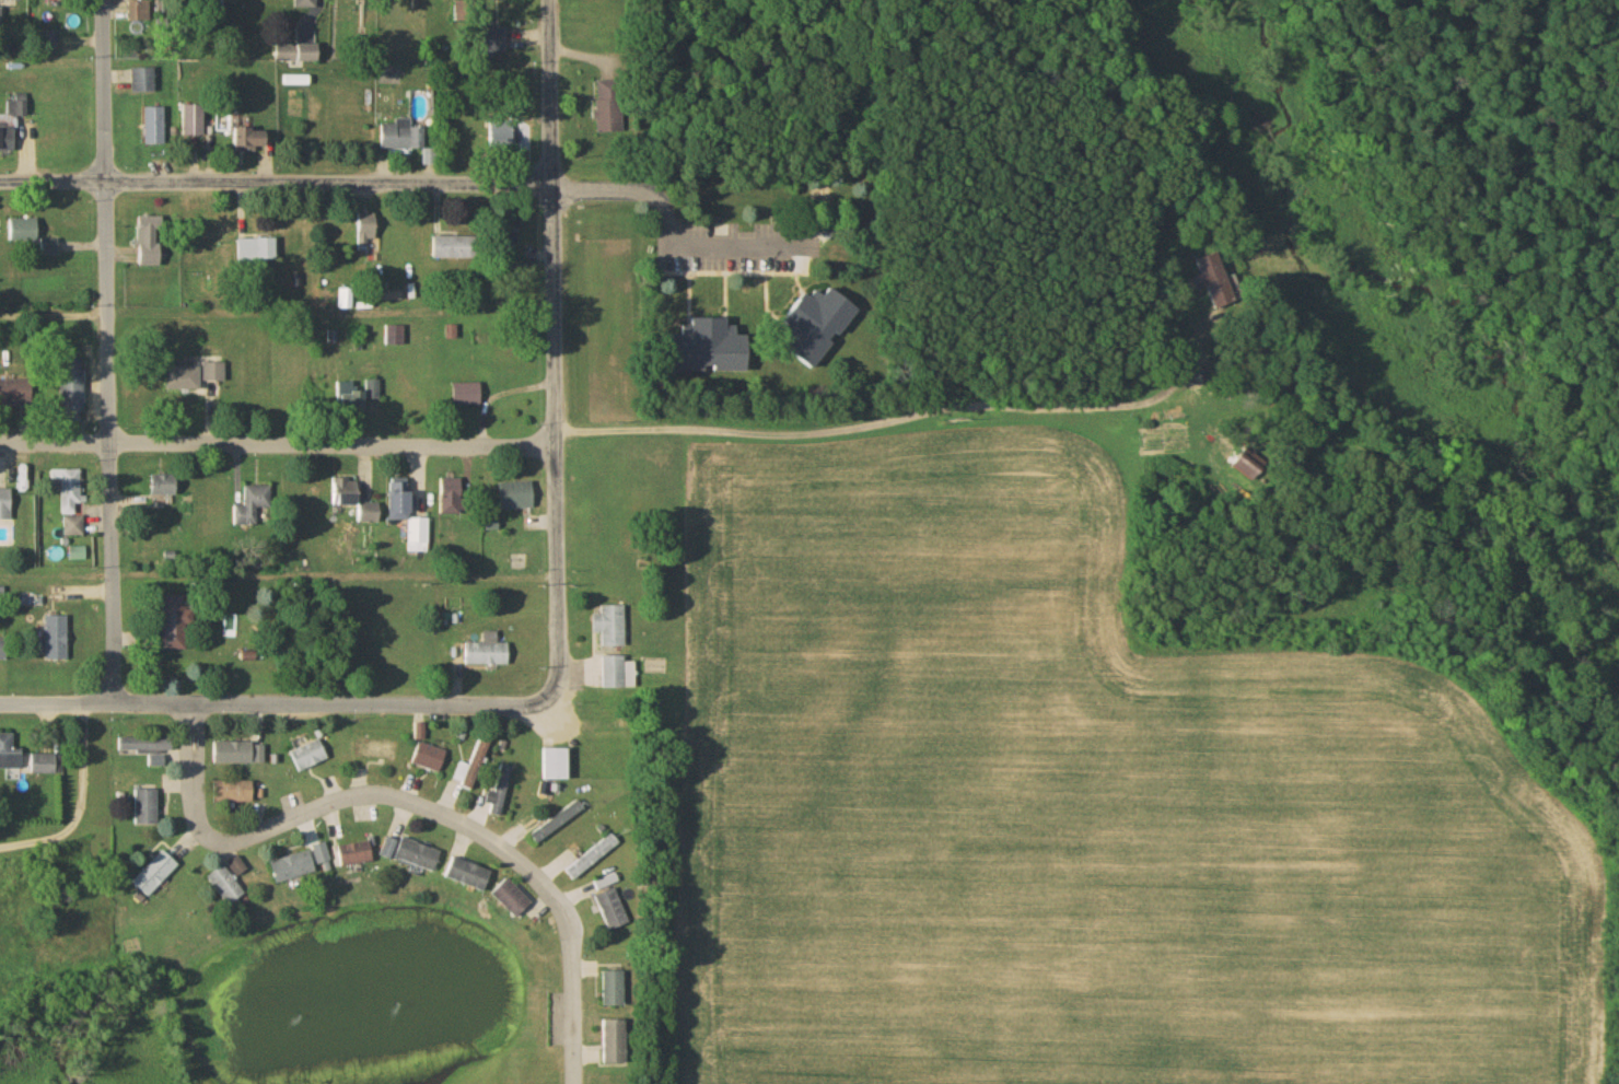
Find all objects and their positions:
building: (10, 0)
building: (306, 4)
building: (466, 11)
building: (138, 12)
building: (0, 16)
building: (299, 54)
building: (142, 82)
building: (607, 106)
building: (13, 119)
building: (193, 121)
building: (154, 125)
building: (403, 136)
building: (493, 136)
building: (254, 140)
road: (54, 180)
road: (326, 180)
road: (669, 229)
building: (24, 231)
building: (364, 231)
building: (825, 235)
building: (151, 245)
building: (50, 248)
building: (454, 248)
building: (258, 252)
building: (1205, 271)
building: (345, 300)
road: (54, 314)
building: (816, 327)
building: (481, 329)
building: (393, 336)
building: (715, 348)
road: (107, 350)
road: (549, 352)
building: (214, 372)
building: (183, 378)
building: (72, 389)
building: (15, 395)
building: (359, 396)
building: (467, 396)
road: (897, 407)
road: (276, 441)
building: (165, 487)
building: (70, 488)
building: (345, 493)
building: (452, 498)
building: (516, 498)
building: (5, 504)
building: (251, 508)
building: (407, 516)
building: (176, 623)
building: (610, 626)
building: (57, 639)
building: (3, 650)
building: (485, 655)
building: (617, 674)
road: (242, 702)
road: (521, 704)
building: (144, 745)
building: (10, 755)
building: (238, 755)
building: (310, 757)
building: (429, 758)
building: (44, 765)
building: (555, 765)
building: (473, 766)
building: (499, 790)
building: (234, 793)
road: (417, 800)
road: (79, 802)
building: (148, 807)
building: (558, 823)
building: (357, 854)
building: (415, 854)
building: (591, 858)
building: (324, 859)
building: (238, 867)
building: (295, 869)
building: (156, 874)
building: (471, 875)
building: (228, 887)
building: (514, 899)
building: (608, 910)
building: (610, 989)
building: (610, 1042)

